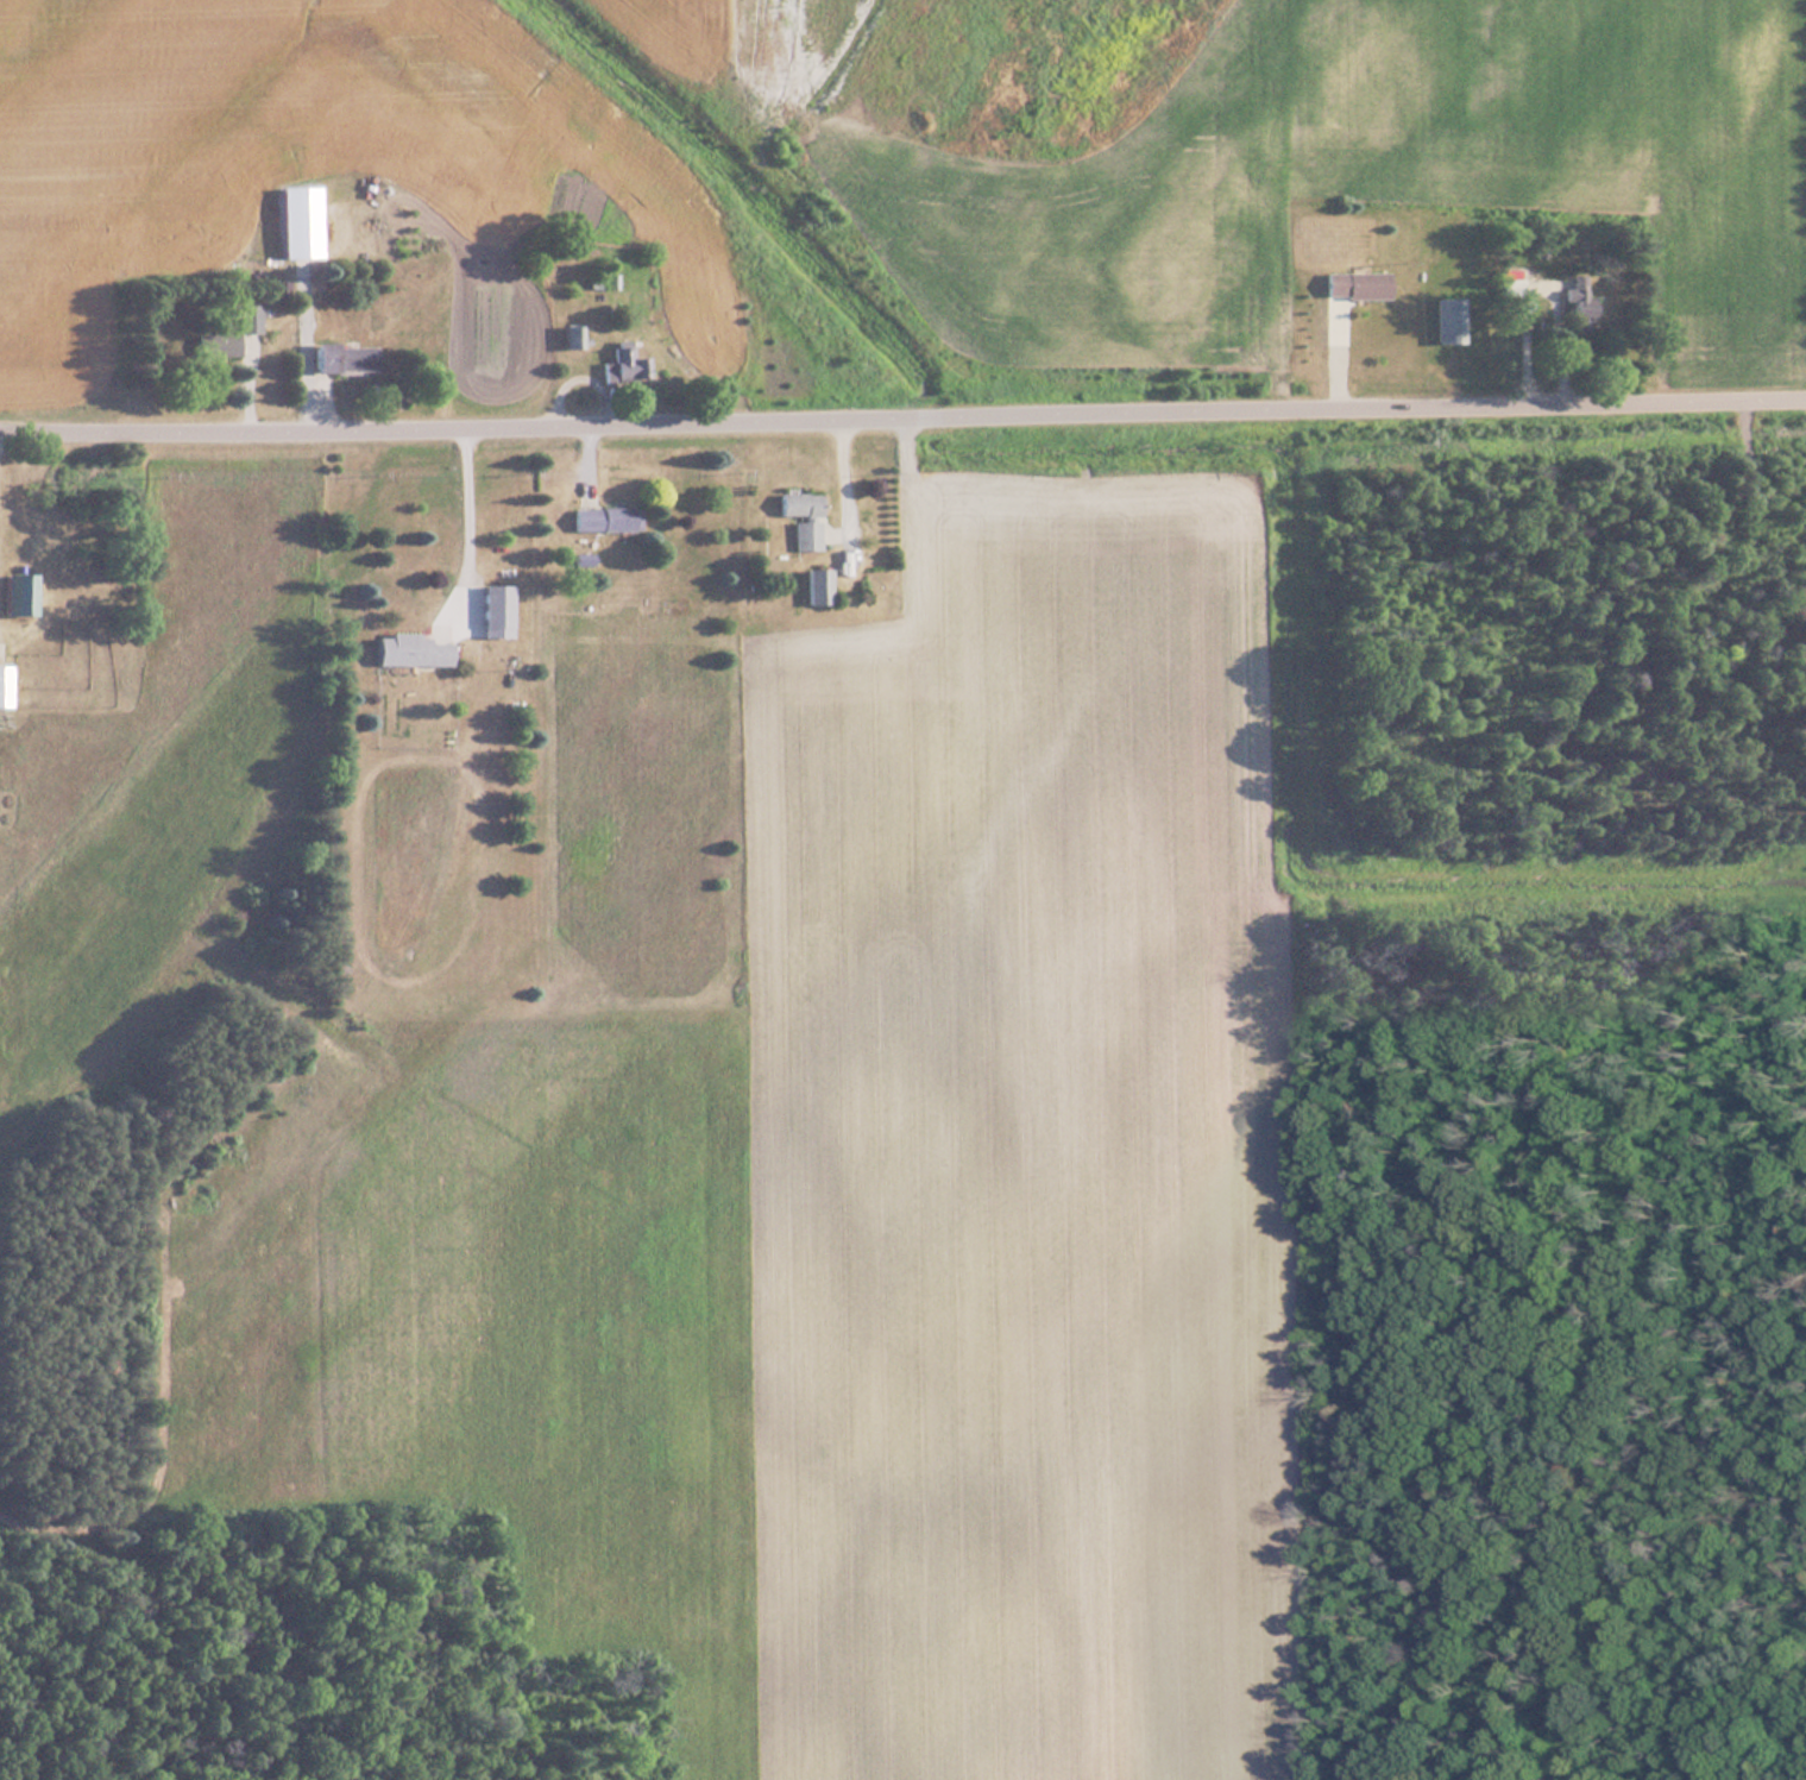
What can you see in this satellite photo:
building: (296, 221)
building: (602, 281)
building: (1352, 285)
building: (1574, 304)
building: (1448, 320)
building: (227, 331)
building: (571, 336)
building: (342, 358)
building: (622, 366)
road: (902, 426)
building: (797, 504)
building: (603, 520)
road: (461, 526)
building: (804, 535)
building: (814, 586)
building: (15, 590)
building: (496, 608)
building: (410, 652)
building: (4, 686)

